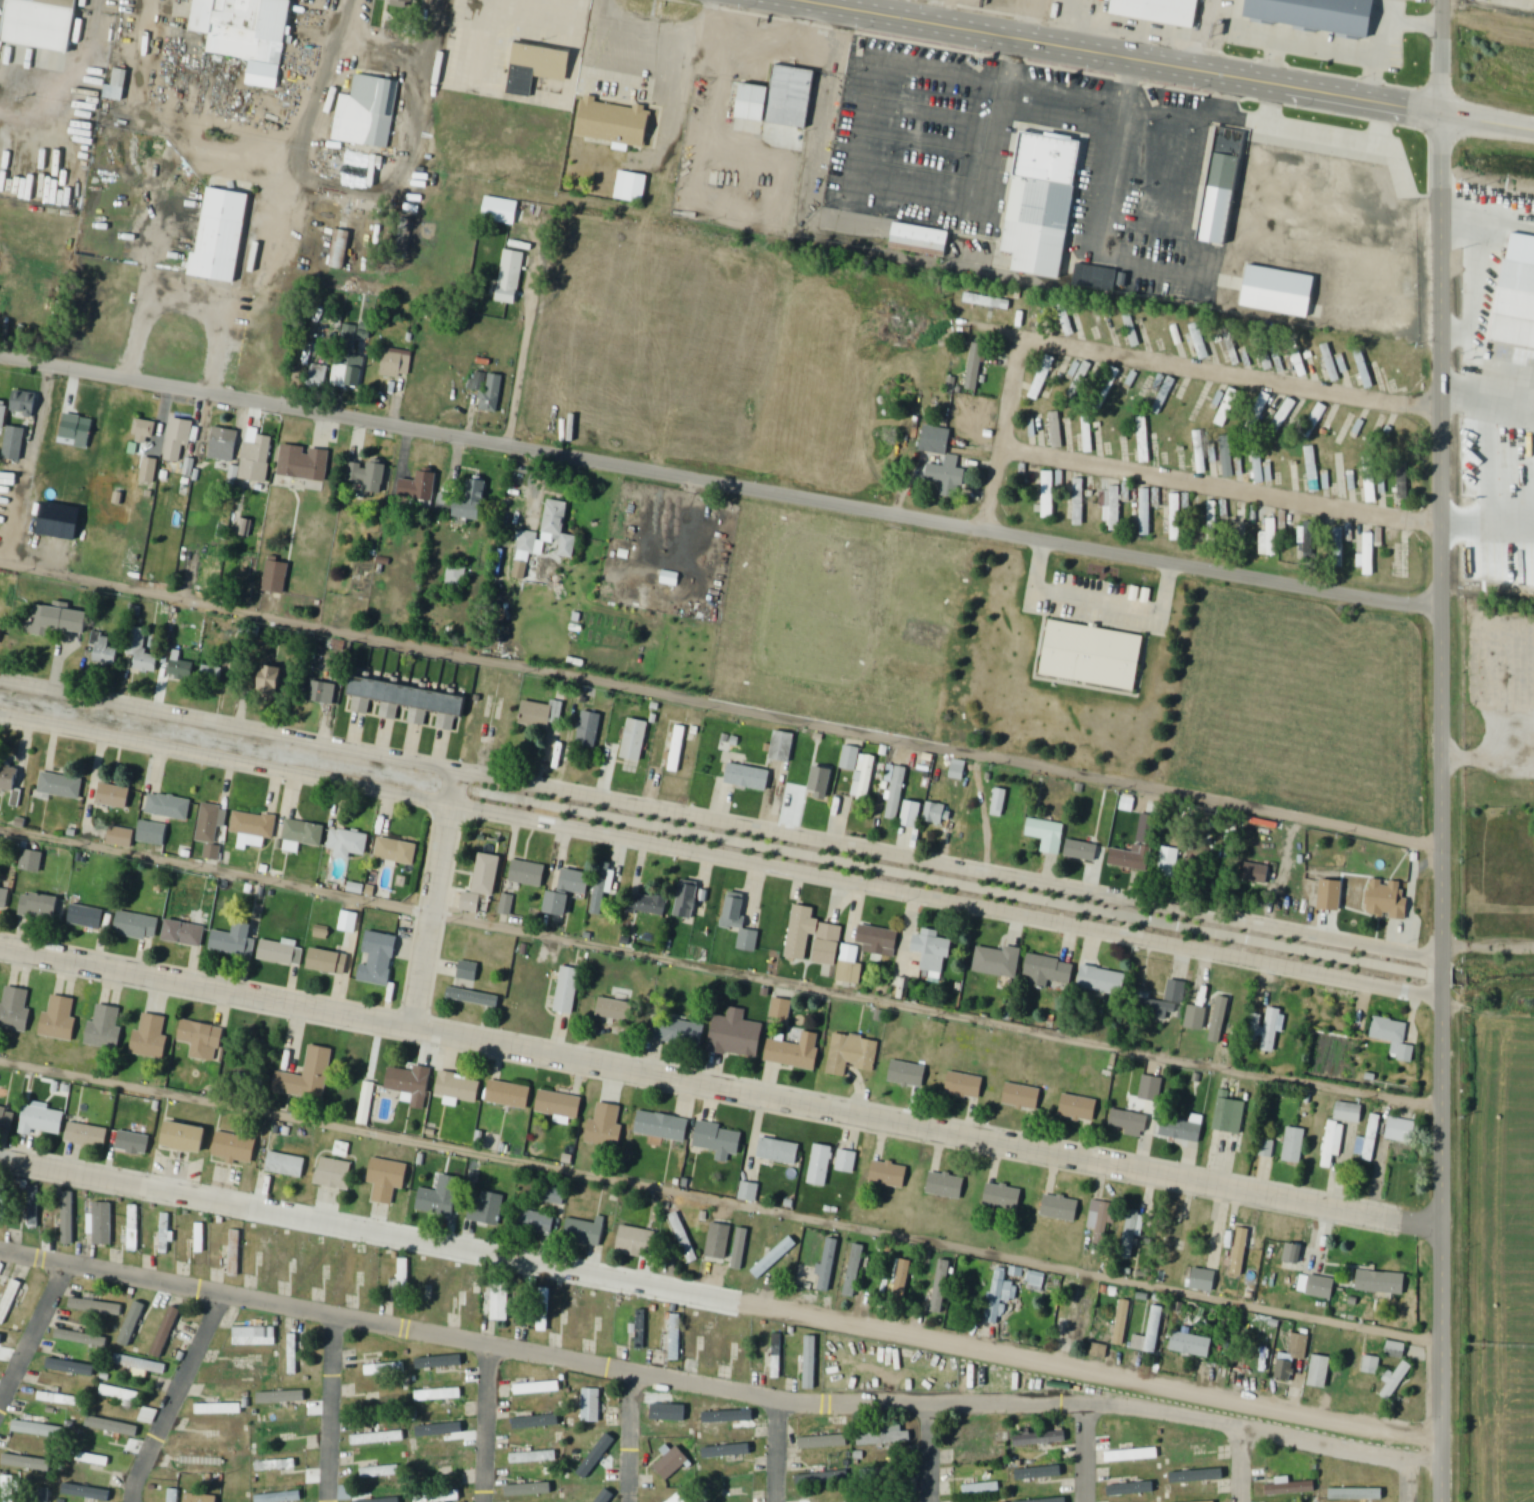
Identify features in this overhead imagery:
building: (404, 4)
building: (1158, 9)
building: (1316, 14)
building: (40, 24)
building: (245, 28)
road: (1117, 55)
road: (1442, 57)
building: (538, 68)
road: (75, 80)
building: (118, 86)
road: (419, 87)
building: (775, 99)
building: (367, 111)
road: (1487, 122)
building: (616, 123)
building: (1221, 185)
building: (631, 187)
building: (1044, 205)
building: (501, 211)
building: (221, 235)
building: (919, 239)
building: (341, 250)
building: (1094, 277)
building: (511, 278)
building: (1277, 289)
building: (988, 303)
building: (1515, 307)
road: (1487, 333)
building: (1200, 342)
road: (1138, 356)
building: (1297, 359)
building: (397, 366)
road: (523, 368)
building: (975, 368)
building: (1366, 371)
building: (348, 372)
building: (1043, 379)
building: (483, 392)
building: (25, 403)
building: (1191, 406)
building: (1227, 407)
building: (3, 415)
building: (1285, 415)
building: (1319, 416)
building: (1339, 429)
building: (144, 432)
building: (1370, 432)
building: (934, 440)
building: (179, 441)
building: (1144, 441)
building: (15, 444)
building: (224, 445)
building: (1200, 453)
building: (256, 456)
building: (1227, 457)
building: (304, 463)
building: (1243, 469)
building: (1286, 469)
building: (1313, 470)
building: (1262, 471)
building: (149, 472)
building: (1339, 475)
building: (371, 476)
road: (720, 482)
building: (1403, 482)
building: (1371, 484)
road: (1221, 485)
building: (420, 487)
building: (1049, 494)
building: (474, 501)
building: (1079, 502)
building: (1114, 507)
building: (1146, 512)
building: (1177, 517)
building: (1212, 522)
building: (1242, 522)
road: (1487, 525)
building: (561, 529)
building: (1270, 539)
building: (1303, 542)
building: (528, 543)
road: (1441, 547)
building: (1368, 555)
building: (1406, 560)
building: (277, 578)
building: (58, 622)
building: (1, 630)
building: (141, 652)
building: (107, 653)
building: (1090, 655)
building: (182, 669)
building: (215, 674)
building: (271, 683)
building: (324, 694)
crop: (1303, 701)
building: (414, 702)
road: (721, 703)
building: (541, 714)
building: (590, 730)
building: (634, 740)
building: (782, 746)
building: (675, 751)
road: (1488, 753)
building: (959, 770)
building: (859, 772)
building: (747, 776)
building: (9, 779)
building: (821, 782)
building: (61, 786)
building: (895, 791)
building: (113, 795)
building: (1000, 804)
building: (169, 807)
building: (913, 816)
building: (939, 816)
building: (211, 824)
building: (255, 828)
building: (152, 833)
building: (305, 833)
road: (721, 836)
building: (1047, 836)
building: (122, 838)
building: (0, 839)
building: (349, 844)
building: (1146, 846)
building: (1080, 850)
building: (396, 851)
building: (32, 863)
building: (1169, 863)
building: (1255, 873)
building: (528, 874)
building: (488, 875)
building: (602, 890)
building: (4, 897)
building: (1389, 900)
building: (690, 902)
building: (556, 903)
road: (435, 905)
building: (649, 905)
building: (40, 907)
building: (507, 907)
building: (86, 917)
building: (741, 922)
building: (136, 925)
building: (349, 932)
building: (799, 933)
building: (185, 934)
building: (236, 940)
building: (827, 943)
road: (1488, 945)
building: (934, 951)
building: (279, 954)
building: (378, 960)
building: (998, 962)
road: (720, 969)
building: (466, 971)
building: (1049, 972)
building: (1103, 982)
building: (568, 991)
building: (1176, 991)
building: (473, 999)
building: (781, 1008)
building: (15, 1010)
building: (616, 1010)
building: (60, 1019)
building: (1196, 1019)
building: (1218, 1020)
building: (105, 1028)
building: (1269, 1029)
building: (679, 1033)
building: (151, 1036)
building: (738, 1036)
building: (1394, 1039)
building: (201, 1040)
building: (797, 1053)
building: (853, 1055)
building: (906, 1074)
building: (307, 1076)
building: (1194, 1077)
building: (410, 1080)
building: (963, 1085)
building: (459, 1087)
road: (719, 1087)
building: (1150, 1089)
building: (508, 1094)
building: (1020, 1095)
building: (368, 1104)
building: (560, 1105)
building: (1077, 1107)
building: (1347, 1112)
building: (1227, 1114)
building: (7, 1119)
building: (43, 1120)
building: (1130, 1122)
building: (606, 1127)
building: (663, 1127)
building: (1183, 1130)
building: (1402, 1131)
building: (88, 1135)
building: (187, 1138)
building: (1373, 1139)
building: (720, 1141)
building: (134, 1144)
building: (1295, 1147)
building: (236, 1149)
building: (779, 1152)
building: (846, 1161)
building: (820, 1164)
building: (285, 1165)
building: (335, 1174)
building: (889, 1175)
building: (388, 1179)
building: (947, 1186)
building: (749, 1192)
building: (440, 1196)
building: (1004, 1198)
road: (720, 1200)
building: (3, 1202)
building: (33, 1203)
building: (1061, 1209)
building: (487, 1210)
building: (69, 1218)
building: (536, 1223)
building: (1101, 1223)
building: (103, 1224)
building: (134, 1228)
building: (1134, 1230)
building: (586, 1232)
building: (165, 1233)
building: (684, 1238)
building: (1172, 1239)
building: (719, 1241)
road: (1440, 1241)
building: (637, 1243)
building: (201, 1244)
building: (740, 1249)
building: (1240, 1251)
building: (761, 1252)
crop: (1501, 1257)
building: (857, 1259)
building: (1305, 1259)
building: (269, 1260)
building: (302, 1261)
building: (829, 1265)
building: (368, 1274)
building: (903, 1280)
building: (1037, 1280)
building: (1203, 1280)
building: (403, 1282)
building: (1382, 1282)
building: (436, 1287)
building: (941, 1287)
building: (1321, 1287)
building: (467, 1294)
road: (720, 1298)
building: (502, 1303)
building: (97, 1307)
building: (574, 1318)
building: (1085, 1320)
building: (642, 1321)
building: (544, 1322)
building: (1123, 1322)
building: (1064, 1325)
building: (167, 1331)
building: (1151, 1333)
road: (33, 1335)
building: (256, 1336)
building: (676, 1337)
building: (710, 1344)
building: (1192, 1344)
building: (744, 1349)
building: (1261, 1350)
building: (1397, 1350)
building: (1100, 1351)
building: (777, 1356)
building: (1293, 1358)
building: (810, 1362)
building: (1372, 1365)
building: (140, 1366)
building: (385, 1369)
building: (248, 1372)
road: (644, 1372)
building: (1321, 1372)
building: (1397, 1382)
building: (529, 1389)
building: (439, 1394)
building: (122, 1395)
road: (174, 1396)
building: (54, 1399)
building: (592, 1406)
road: (333, 1408)
building: (219, 1409)
building: (149, 1416)
road: (486, 1423)
building: (533, 1423)
building: (112, 1427)
building: (40, 1430)
building: (280, 1430)
building: (437, 1430)
building: (886, 1435)
road: (631, 1436)
building: (1059, 1436)
building: (378, 1438)
building: (1026, 1440)
building: (824, 1442)
road: (777, 1450)
building: (727, 1451)
road: (929, 1451)
road: (1084, 1452)
building: (978, 1455)
building: (1131, 1455)
building: (534, 1457)
building: (90, 1459)
building: (201, 1461)
building: (594, 1462)
building: (279, 1464)
building: (437, 1464)
building: (672, 1464)
road: (1408, 1465)
building: (380, 1472)
building: (878, 1476)
building: (822, 1478)
building: (725, 1485)
building: (1289, 1488)
building: (982, 1489)
building: (1127, 1490)
road: (1240, 1490)
building: (85, 1493)
building: (347, 1493)
building: (39, 1495)
building: (172, 1495)
building: (1357, 1495)
building: (444, 1496)
building: (281, 1497)
building: (201, 1498)
building: (371, 1498)
building: (606, 1498)
building: (677, 1498)
building: (388, 1501)

